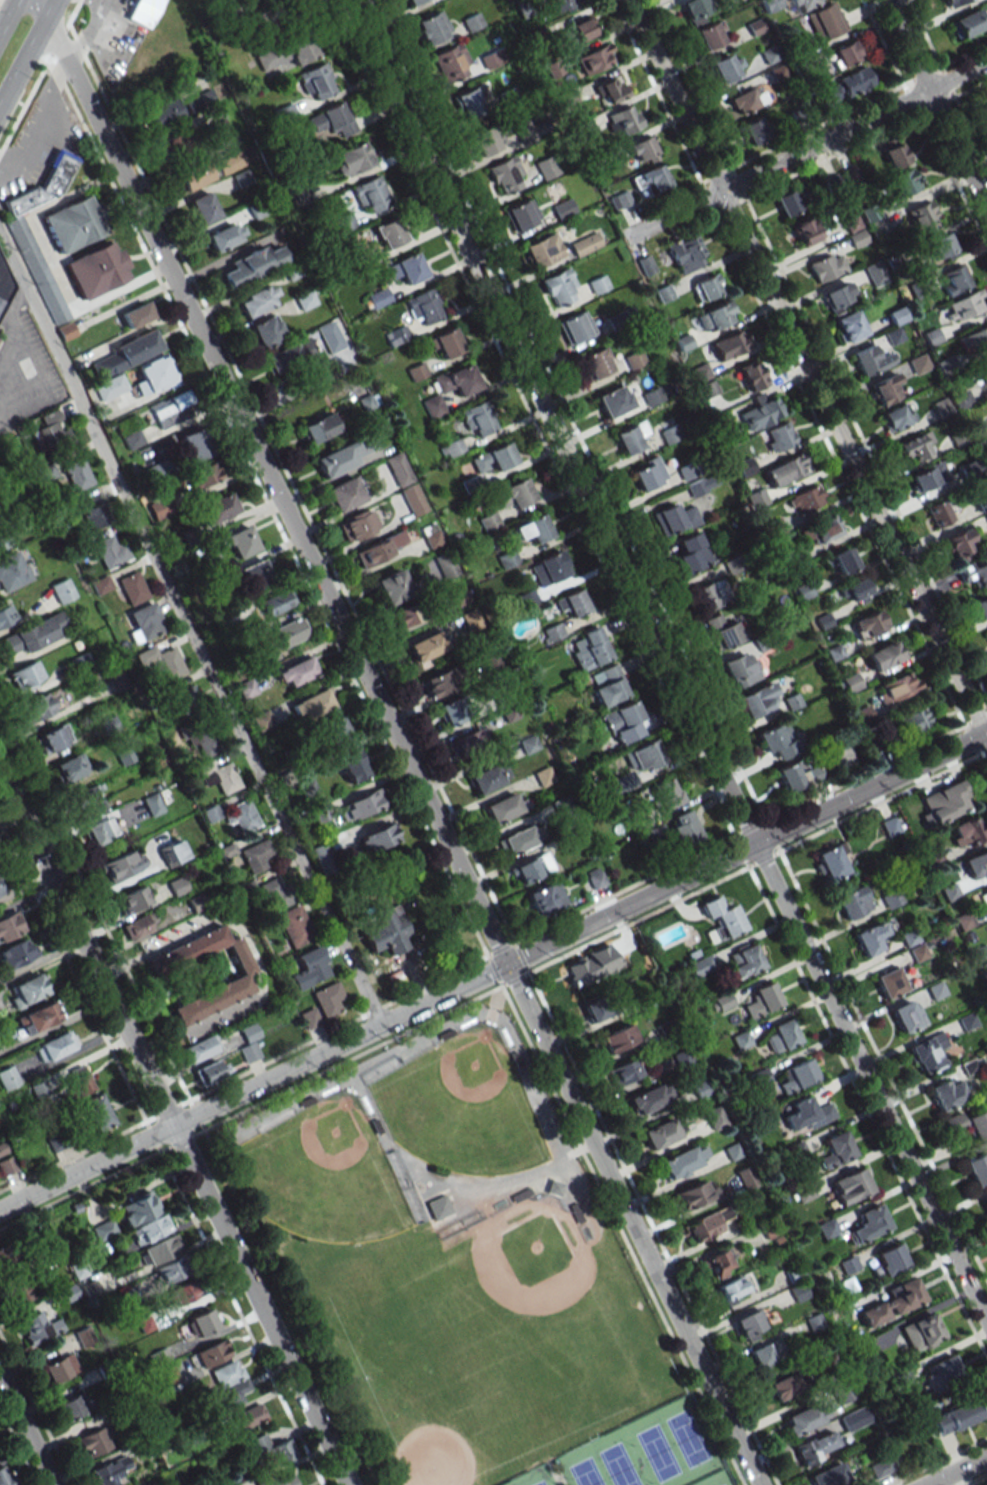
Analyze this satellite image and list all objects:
road: (105, 0)
road: (205, 1)
building: (259, 1)
building: (412, 1)
building: (952, 2)
building: (561, 4)
building: (770, 4)
building: (803, 4)
building: (695, 10)
building: (144, 12)
road: (7, 14)
road: (73, 14)
road: (263, 19)
building: (825, 21)
building: (968, 23)
building: (432, 27)
building: (579, 30)
road: (89, 31)
building: (710, 35)
road: (59, 42)
road: (26, 52)
building: (288, 52)
building: (844, 54)
building: (492, 58)
building: (594, 59)
building: (450, 62)
building: (553, 67)
building: (726, 68)
building: (780, 75)
building: (854, 81)
building: (315, 82)
building: (610, 89)
building: (985, 91)
building: (199, 100)
building: (742, 101)
building: (468, 102)
road: (26, 103)
road: (936, 104)
building: (162, 113)
building: (332, 120)
building: (623, 120)
road: (40, 125)
building: (586, 129)
building: (753, 130)
building: (488, 140)
building: (174, 144)
building: (641, 149)
road: (804, 150)
building: (892, 152)
building: (351, 159)
building: (229, 162)
building: (546, 167)
building: (506, 175)
building: (193, 176)
building: (656, 177)
building: (903, 182)
building: (833, 184)
building: (371, 194)
building: (787, 202)
building: (203, 207)
building: (562, 208)
building: (522, 214)
building: (923, 216)
building: (873, 219)
building: (344, 222)
building: (851, 223)
building: (72, 224)
building: (806, 231)
building: (391, 232)
building: (224, 236)
building: (857, 238)
building: (585, 244)
building: (941, 246)
building: (542, 250)
building: (685, 252)
building: (253, 264)
building: (826, 266)
building: (36, 269)
building: (406, 269)
building: (97, 270)
building: (876, 274)
building: (954, 280)
building: (2, 282)
building: (598, 284)
building: (558, 287)
building: (705, 287)
building: (836, 297)
building: (257, 300)
building: (966, 306)
building: (424, 307)
building: (137, 314)
building: (715, 317)
building: (575, 326)
building: (847, 326)
building: (66, 331)
building: (266, 331)
building: (329, 336)
building: (397, 336)
building: (894, 336)
building: (974, 340)
building: (446, 343)
building: (728, 345)
building: (128, 353)
building: (289, 355)
building: (634, 359)
building: (869, 360)
building: (595, 363)
building: (918, 363)
road: (807, 371)
building: (983, 371)
building: (156, 373)
building: (751, 375)
building: (456, 380)
road: (42, 388)
building: (886, 389)
building: (649, 397)
building: (613, 401)
building: (433, 406)
building: (171, 409)
building: (760, 413)
building: (896, 416)
building: (477, 418)
building: (978, 425)
building: (318, 428)
building: (668, 431)
building: (52, 434)
building: (630, 437)
building: (778, 437)
building: (193, 445)
building: (913, 447)
building: (451, 448)
building: (346, 454)
building: (493, 458)
building: (398, 469)
building: (786, 470)
building: (46, 472)
building: (647, 473)
building: (77, 474)
building: (205, 475)
building: (928, 476)
road: (225, 482)
building: (698, 486)
building: (344, 494)
building: (513, 494)
building: (413, 499)
building: (805, 499)
building: (160, 508)
building: (219, 508)
building: (89, 511)
building: (939, 513)
building: (986, 517)
building: (674, 519)
building: (488, 521)
building: (357, 525)
building: (532, 529)
building: (819, 530)
building: (431, 535)
building: (240, 541)
building: (959, 545)
building: (379, 549)
building: (110, 552)
building: (691, 552)
building: (507, 558)
building: (843, 560)
building: (445, 565)
building: (548, 568)
building: (12, 570)
building: (255, 572)
building: (975, 573)
building: (101, 584)
building: (392, 587)
building: (133, 588)
building: (62, 591)
building: (856, 591)
building: (704, 597)
building: (527, 599)
building: (275, 602)
building: (571, 602)
building: (980, 606)
building: (5, 615)
building: (405, 615)
building: (144, 622)
building: (867, 624)
building: (290, 631)
building: (723, 631)
road: (189, 632)
building: (552, 632)
building: (34, 634)
building: (425, 648)
building: (588, 649)
building: (883, 655)
building: (163, 662)
road: (666, 662)
building: (741, 669)
building: (295, 672)
building: (26, 676)
building: (117, 679)
building: (437, 683)
building: (607, 685)
building: (897, 687)
building: (246, 688)
building: (758, 700)
building: (184, 701)
building: (312, 704)
building: (40, 707)
building: (449, 712)
building: (261, 720)
building: (912, 721)
building: (621, 722)
building: (336, 733)
building: (52, 738)
building: (199, 738)
building: (777, 740)
road: (397, 742)
building: (467, 742)
building: (641, 756)
building: (351, 765)
building: (70, 767)
building: (545, 773)
building: (797, 774)
building: (219, 777)
building: (488, 777)
building: (665, 793)
building: (87, 795)
building: (945, 801)
building: (152, 804)
building: (362, 804)
building: (504, 807)
building: (92, 812)
building: (210, 814)
building: (241, 816)
building: (890, 825)
building: (684, 828)
building: (100, 831)
building: (966, 833)
building: (376, 837)
building: (517, 840)
building: (173, 852)
building: (255, 855)
building: (831, 862)
building: (976, 864)
building: (122, 865)
building: (531, 868)
building: (595, 877)
building: (177, 886)
building: (1, 891)
building: (274, 893)
building: (984, 894)
building: (546, 898)
building: (134, 899)
building: (891, 899)
building: (853, 902)
building: (721, 918)
building: (10, 925)
building: (139, 926)
building: (295, 926)
building: (386, 931)
building: (869, 939)
building: (627, 947)
road: (252, 952)
building: (17, 953)
building: (743, 960)
building: (701, 966)
building: (309, 968)
road: (493, 970)
road: (73, 973)
building: (244, 975)
building: (889, 982)
building: (26, 990)
building: (328, 1000)
building: (762, 1000)
building: (599, 1007)
building: (907, 1016)
building: (37, 1018)
building: (310, 1018)
building: (250, 1032)
building: (782, 1036)
building: (617, 1038)
building: (741, 1040)
building: (55, 1046)
building: (200, 1048)
building: (249, 1052)
building: (928, 1052)
road: (348, 1059)
building: (623, 1071)
building: (209, 1072)
building: (798, 1075)
building: (760, 1077)
building: (8, 1078)
building: (80, 1084)
building: (39, 1089)
building: (946, 1093)
building: (649, 1099)
park: (461, 1107)
building: (97, 1110)
building: (809, 1113)
building: (715, 1118)
building: (954, 1123)
building: (978, 1123)
road: (175, 1126)
building: (660, 1133)
road: (153, 1136)
building: (61, 1139)
road: (182, 1140)
building: (2, 1148)
building: (836, 1149)
road: (77, 1154)
building: (682, 1161)
building: (7, 1166)
building: (977, 1168)
park: (323, 1175)
road: (85, 1186)
building: (848, 1188)
building: (694, 1193)
road: (124, 1197)
building: (985, 1203)
building: (438, 1206)
building: (76, 1207)
building: (139, 1208)
road: (97, 1218)
building: (708, 1224)
building: (868, 1224)
building: (154, 1227)
building: (827, 1228)
building: (104, 1230)
road: (622, 1234)
building: (41, 1235)
road: (150, 1242)
building: (160, 1249)
building: (6, 1252)
building: (52, 1255)
building: (889, 1259)
road: (162, 1260)
building: (720, 1263)
park: (461, 1266)
building: (77, 1267)
building: (174, 1268)
road: (189, 1275)
building: (90, 1289)
building: (17, 1290)
building: (732, 1290)
building: (800, 1292)
building: (184, 1293)
building: (70, 1294)
building: (132, 1294)
road: (201, 1301)
building: (893, 1302)
road: (289, 1305)
road: (240, 1315)
building: (815, 1322)
building: (202, 1323)
building: (748, 1323)
building: (145, 1324)
building: (39, 1327)
building: (921, 1331)
road: (216, 1333)
building: (84, 1336)
building: (211, 1353)
building: (766, 1353)
building: (160, 1356)
road: (222, 1362)
building: (59, 1368)
building: (105, 1370)
road: (187, 1373)
road: (269, 1373)
building: (940, 1373)
building: (227, 1374)
building: (168, 1375)
building: (784, 1386)
building: (844, 1390)
building: (227, 1397)
road: (248, 1406)
building: (70, 1408)
road: (36, 1409)
building: (114, 1413)
building: (859, 1414)
building: (250, 1416)
building: (954, 1417)
building: (804, 1418)
road: (27, 1428)
road: (292, 1431)
building: (191, 1437)
park: (440, 1437)
building: (93, 1442)
building: (140, 1444)
road: (18, 1446)
building: (816, 1446)
building: (269, 1450)
park: (646, 1450)
road: (287, 1464)
building: (882, 1467)
road: (958, 1470)
building: (110, 1471)
building: (5, 1475)
building: (830, 1475)
park: (532, 1477)
park: (715, 1478)
building: (278, 1479)

